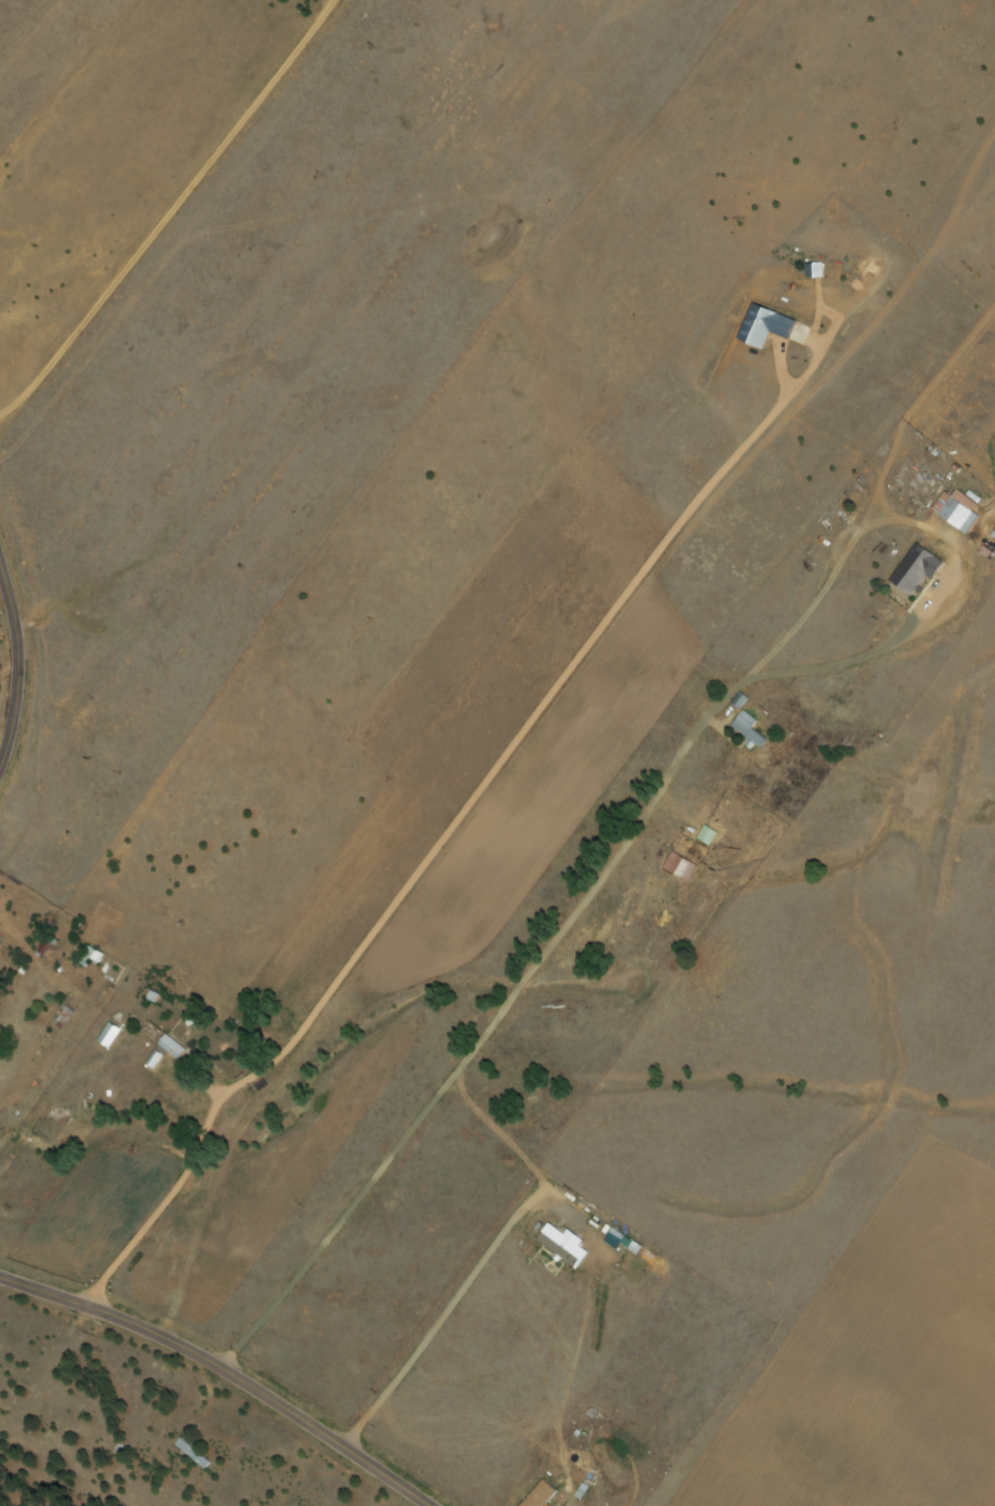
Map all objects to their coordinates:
road: (170, 211)
building: (812, 271)
building: (768, 328)
building: (955, 509)
building: (913, 569)
road: (15, 664)
building: (747, 728)
building: (705, 835)
building: (677, 867)
building: (43, 947)
building: (89, 959)
building: (62, 1015)
building: (169, 1047)
building: (561, 1244)
road: (223, 1372)
building: (190, 1453)
building: (544, 1497)

